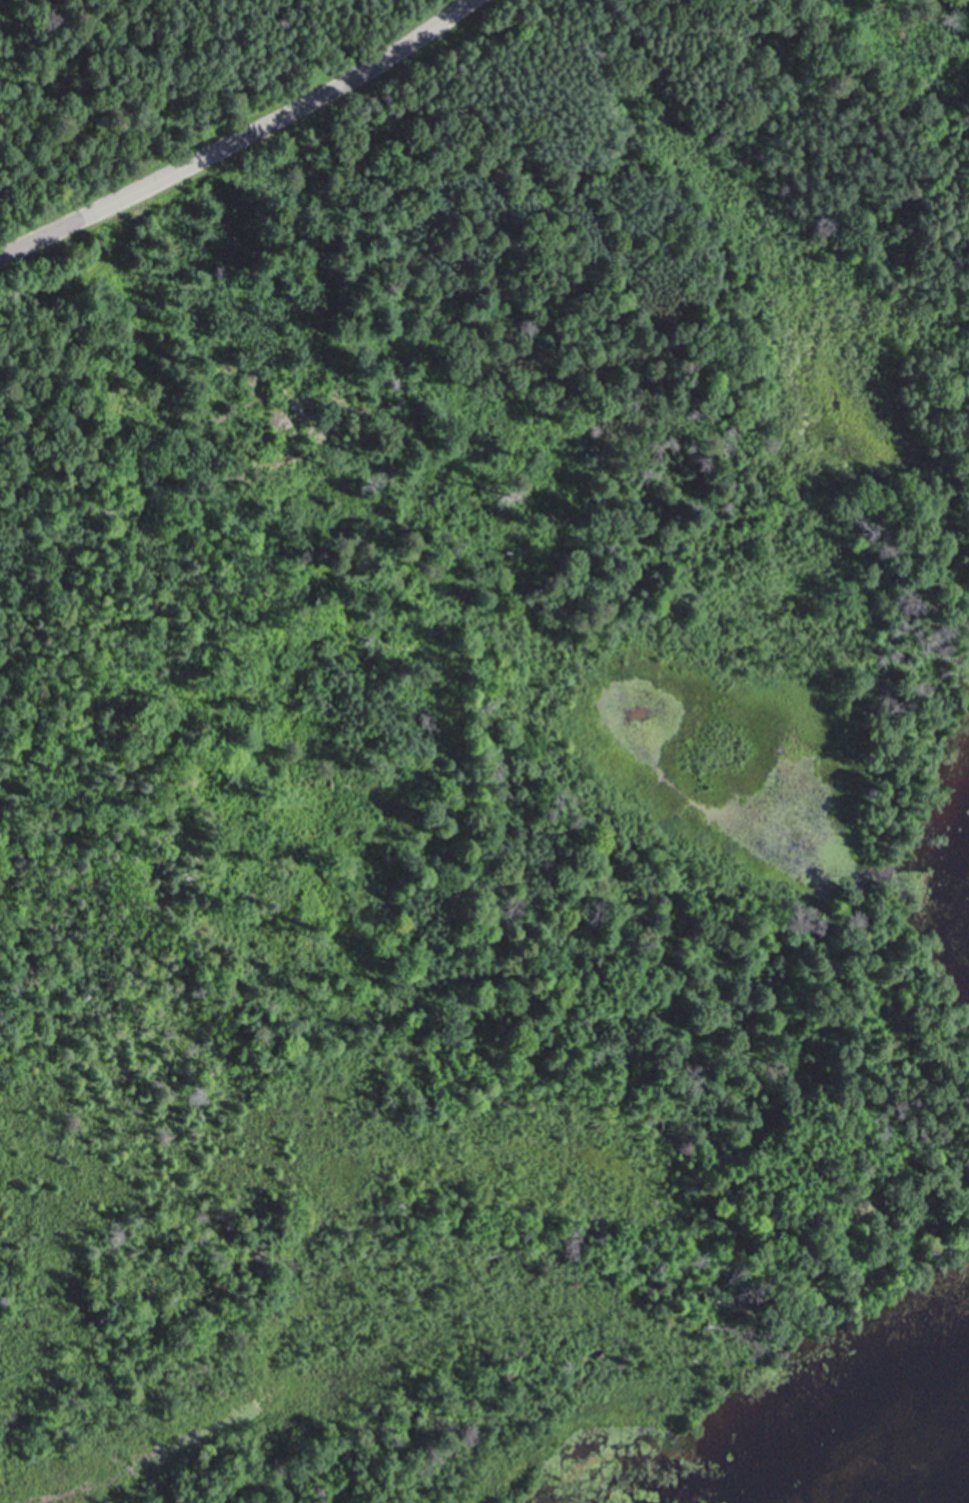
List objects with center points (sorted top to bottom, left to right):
road: (239, 135)

